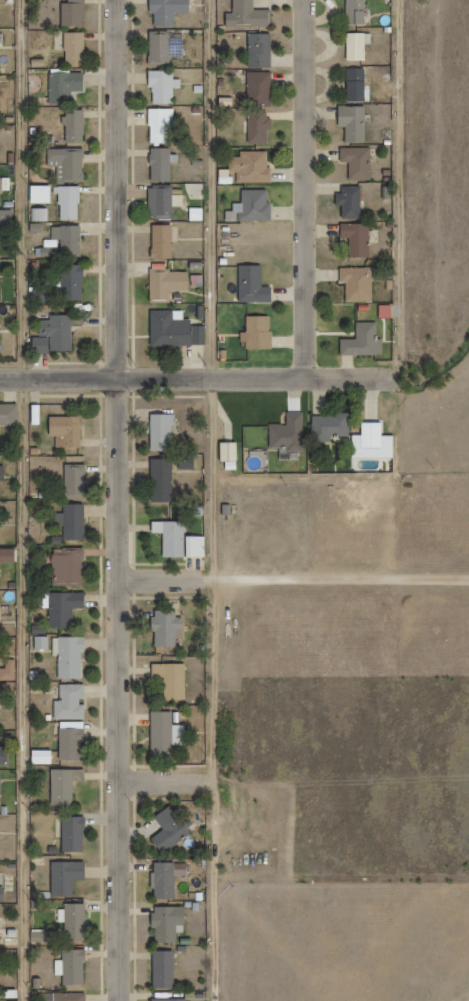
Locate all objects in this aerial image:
building: (163, 11)
building: (353, 12)
building: (70, 13)
building: (244, 15)
building: (354, 47)
building: (155, 48)
building: (71, 49)
building: (256, 50)
building: (61, 85)
building: (353, 85)
building: (159, 87)
building: (256, 89)
building: (351, 123)
building: (70, 126)
building: (158, 126)
building: (256, 128)
building: (355, 162)
building: (64, 163)
building: (157, 164)
building: (248, 166)
road: (209, 188)
road: (305, 188)
road: (408, 193)
building: (159, 202)
building: (347, 202)
building: (65, 203)
building: (250, 206)
building: (354, 239)
building: (65, 240)
building: (158, 242)
building: (67, 283)
building: (163, 284)
building: (354, 284)
building: (249, 285)
building: (172, 329)
building: (54, 332)
building: (254, 332)
building: (360, 341)
road: (194, 378)
building: (7, 414)
building: (336, 430)
building: (62, 431)
building: (294, 436)
building: (169, 437)
building: (377, 439)
building: (234, 455)
building: (0, 473)
building: (72, 481)
building: (166, 485)
road: (28, 500)
road: (116, 500)
building: (69, 523)
building: (180, 544)
building: (202, 550)
building: (64, 567)
road: (292, 576)
building: (61, 609)
building: (164, 630)
building: (66, 658)
building: (168, 680)
road: (222, 689)
building: (66, 702)
building: (158, 734)
building: (68, 742)
road: (170, 781)
building: (60, 785)
building: (166, 831)
building: (67, 835)
building: (61, 878)
building: (160, 881)
building: (0, 894)
building: (71, 923)
building: (163, 924)
building: (69, 968)
building: (159, 970)
building: (65, 997)
building: (165, 999)

